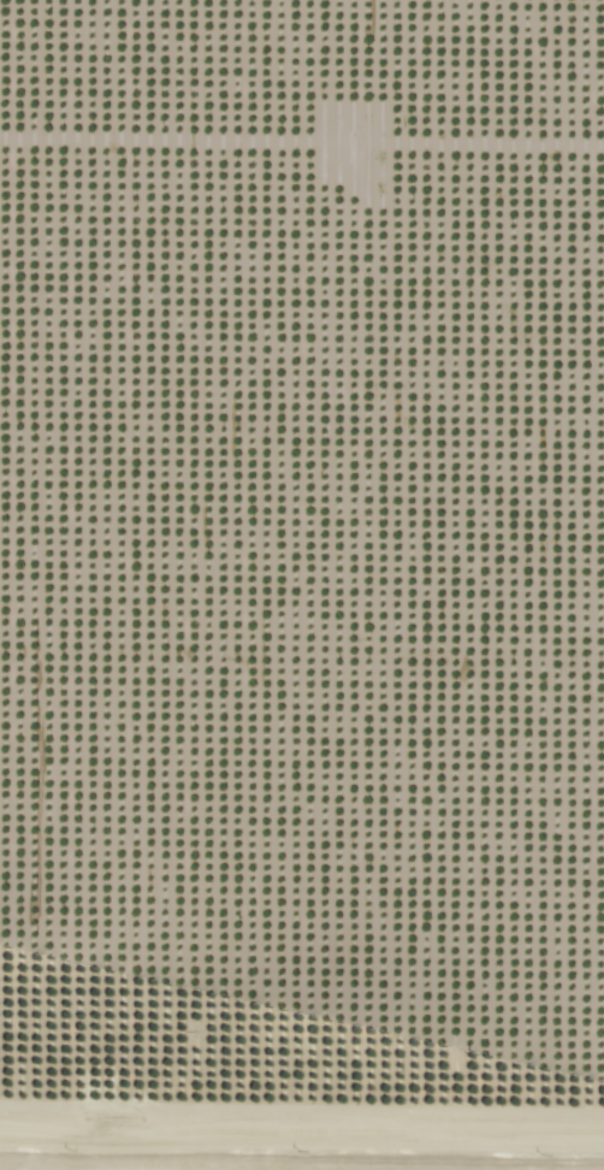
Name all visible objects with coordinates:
road: (302, 1131)

